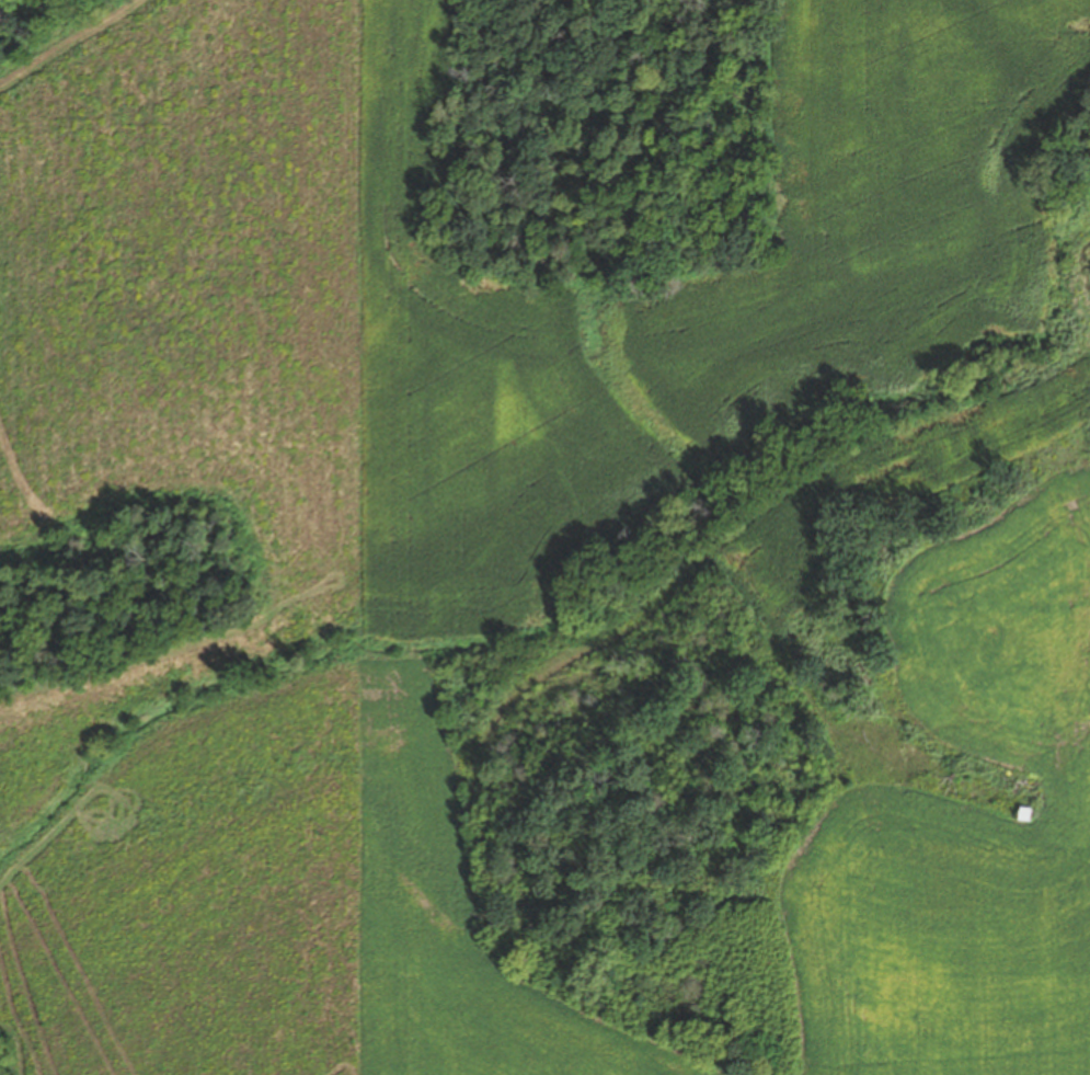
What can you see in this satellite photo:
building: (1024, 814)

